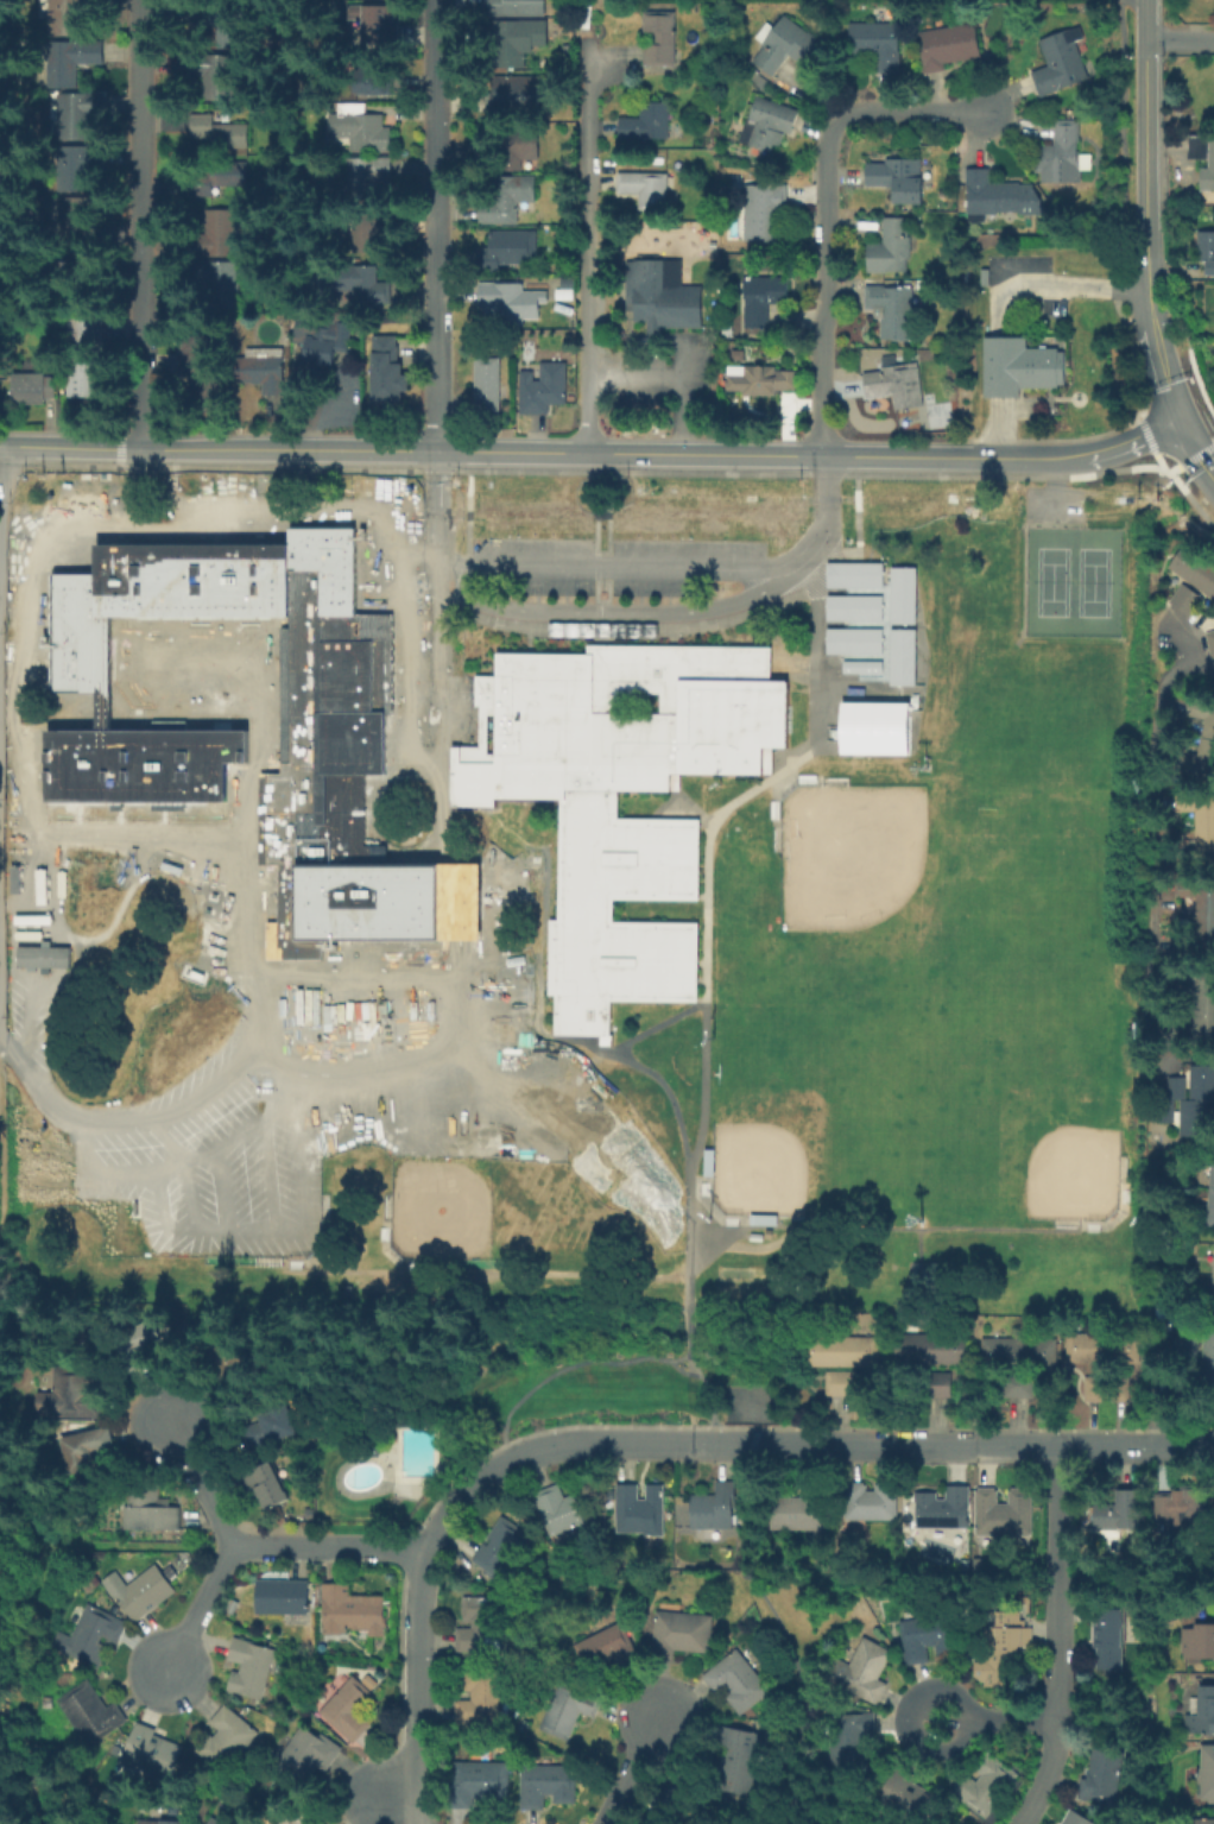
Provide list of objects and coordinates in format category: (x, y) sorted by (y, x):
building: (516, 7)
building: (68, 17)
building: (222, 24)
building: (378, 25)
road: (1177, 37)
building: (660, 40)
building: (877, 44)
building: (508, 45)
building: (784, 46)
building: (947, 48)
building: (65, 63)
building: (1061, 64)
building: (216, 77)
building: (367, 80)
building: (513, 93)
building: (83, 114)
building: (771, 122)
building: (649, 124)
building: (361, 130)
building: (221, 132)
road: (1143, 132)
building: (1195, 149)
building: (520, 151)
building: (1066, 157)
building: (80, 169)
building: (1204, 178)
building: (221, 179)
building: (371, 179)
building: (898, 182)
building: (646, 191)
building: (1000, 200)
building: (506, 201)
road: (823, 210)
building: (764, 214)
building: (77, 222)
road: (144, 225)
road: (436, 226)
building: (220, 234)
building: (371, 234)
road: (589, 238)
building: (890, 248)
building: (505, 252)
building: (1207, 255)
building: (223, 282)
road: (1054, 284)
building: (366, 286)
building: (563, 294)
building: (659, 294)
building: (760, 301)
building: (514, 303)
building: (892, 311)
building: (86, 337)
building: (320, 339)
road: (1155, 343)
building: (264, 368)
building: (1020, 368)
building: (202, 374)
building: (388, 374)
road: (634, 375)
building: (763, 381)
building: (897, 385)
building: (488, 386)
building: (37, 389)
building: (545, 391)
road: (679, 398)
flagpole: (1054, 405)
road: (0, 446)
road: (1195, 447)
road: (411, 450)
road: (1081, 455)
road: (899, 457)
road: (1055, 486)
parking lot: (1051, 505)
road: (714, 528)
building: (1193, 570)
building: (852, 574)
park: (1050, 581)
park: (1092, 581)
road: (0, 583)
building: (900, 594)
building: (1182, 599)
road: (0, 605)
building: (852, 607)
road: (824, 621)
building: (852, 640)
building: (1209, 642)
building: (900, 656)
road: (520, 667)
building: (860, 668)
road: (1206, 669)
road: (689, 677)
road: (1, 692)
building: (872, 727)
road: (720, 732)
building: (1201, 744)
building: (145, 745)
parking lot: (631, 753)
road: (622, 770)
road: (584, 801)
building: (1201, 827)
road: (624, 828)
park: (851, 856)
building: (624, 858)
park: (1017, 879)
road: (621, 889)
road: (696, 916)
building: (1206, 920)
building: (480, 945)
building: (40, 957)
road: (340, 976)
building: (489, 976)
building: (1201, 1010)
park: (972, 1047)
building: (1199, 1107)
building: (1166, 1111)
park: (758, 1168)
park: (1074, 1174)
road: (685, 1180)
building: (1210, 1193)
road: (8, 1200)
park: (273, 1207)
park: (442, 1210)
road: (916, 1245)
road: (545, 1274)
building: (1213, 1282)
road: (0, 1317)
building: (1082, 1348)
building: (927, 1349)
building: (1016, 1350)
building: (839, 1351)
road: (570, 1365)
road: (682, 1372)
building: (836, 1382)
building: (1014, 1387)
building: (1102, 1388)
building: (71, 1399)
road: (731, 1426)
building: (268, 1431)
road: (695, 1441)
road: (748, 1441)
building: (87, 1447)
road: (200, 1476)
building: (267, 1488)
building: (871, 1503)
building: (714, 1508)
building: (946, 1509)
building: (797, 1510)
building: (639, 1511)
building: (557, 1514)
building: (1121, 1514)
building: (1180, 1514)
building: (1005, 1515)
building: (152, 1517)
road: (328, 1545)
building: (501, 1547)
building: (144, 1592)
building: (284, 1597)
road: (196, 1610)
building: (350, 1614)
building: (481, 1628)
building: (681, 1633)
building: (91, 1637)
road: (783, 1637)
road: (1061, 1637)
building: (930, 1640)
building: (1111, 1641)
building: (1199, 1643)
building: (1005, 1647)
building: (608, 1649)
building: (251, 1667)
building: (866, 1670)
building: (736, 1681)
building: (481, 1699)
building: (568, 1709)
building: (352, 1711)
building: (88, 1713)
building: (1200, 1716)
road: (993, 1717)
building: (228, 1738)
building: (851, 1742)
building: (153, 1754)
building: (306, 1759)
building: (740, 1763)
road: (632, 1771)
building: (1207, 1776)
building: (1102, 1778)
road: (413, 1785)
building: (480, 1786)
building: (548, 1787)
building: (986, 1787)
road: (390, 1800)
building: (909, 1800)
building: (675, 1804)
building: (296, 1818)
building: (1075, 1819)
building: (1202, 1819)
building: (162, 1823)
building: (211, 1823)
building: (322, 1823)

